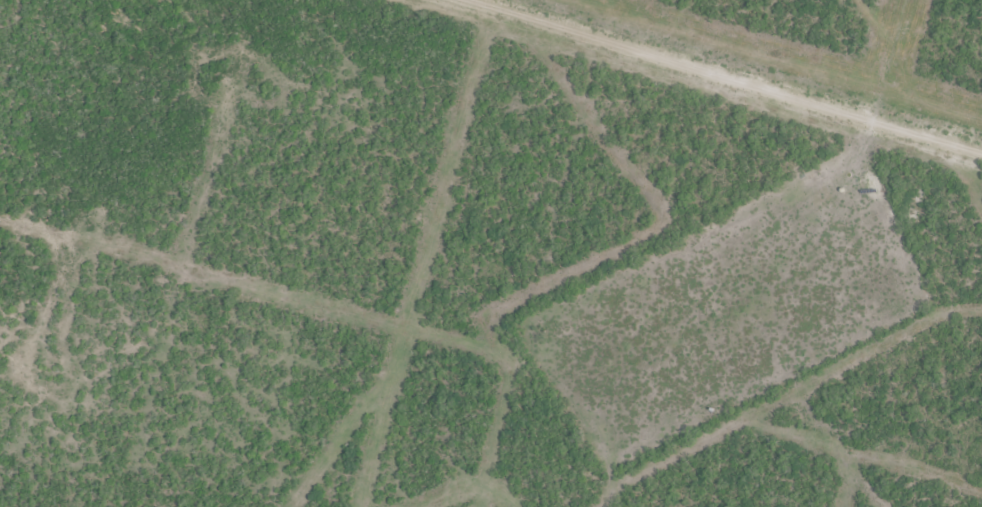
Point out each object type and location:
road: (703, 76)

